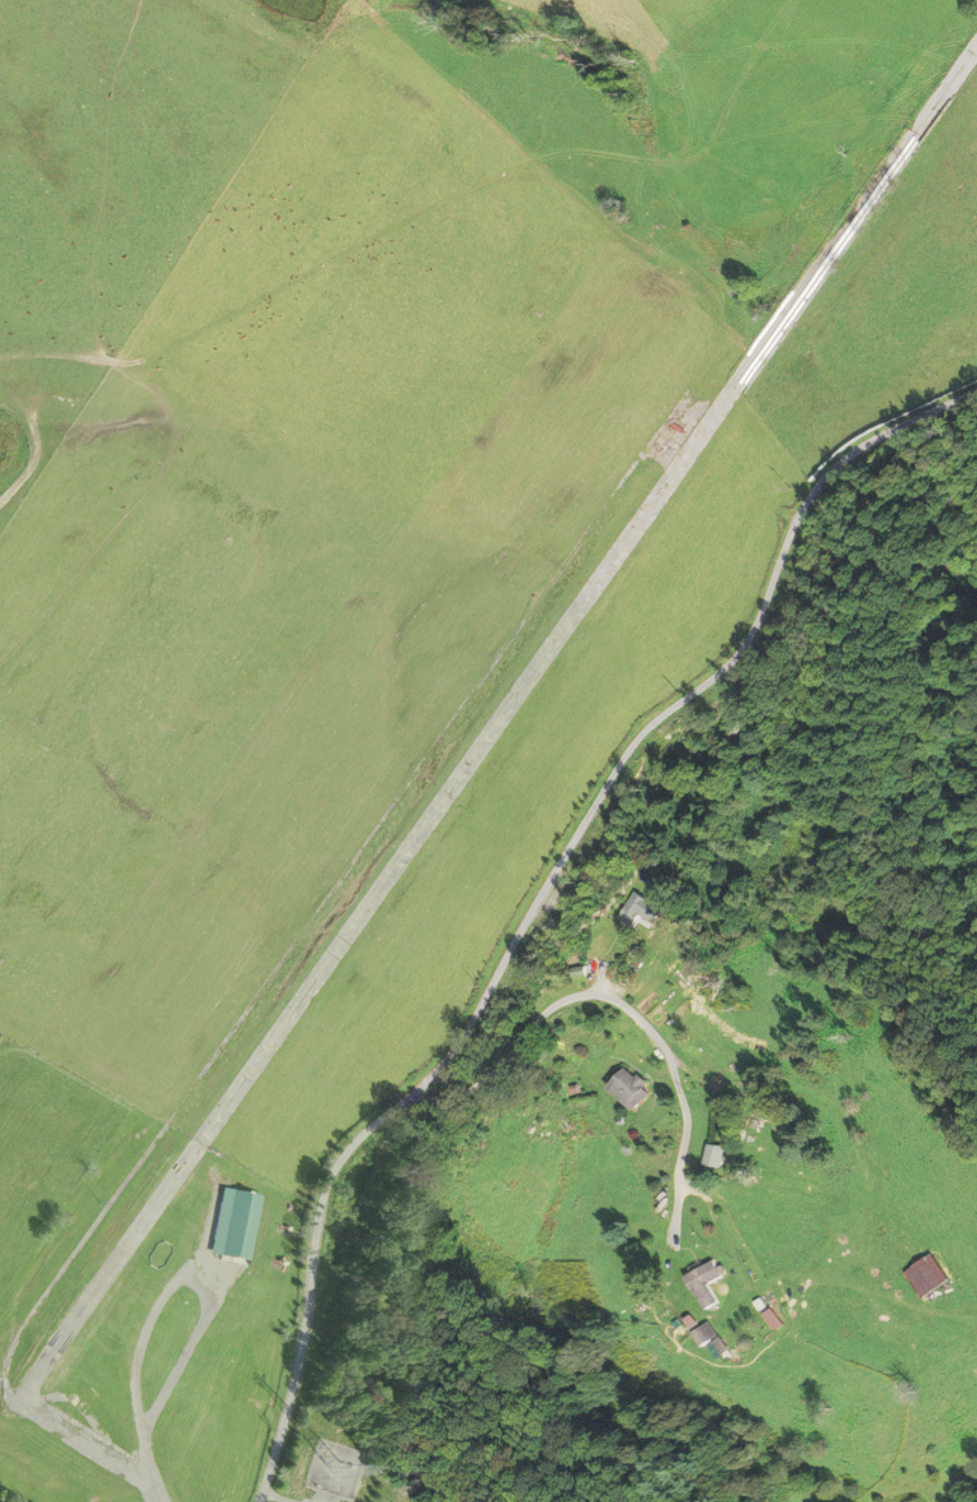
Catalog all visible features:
road: (544, 897)
building: (641, 910)
road: (615, 999)
building: (712, 1155)
building: (234, 1222)
building: (927, 1276)
building: (705, 1282)
road: (192, 1283)
building: (705, 1333)
road: (151, 1465)

